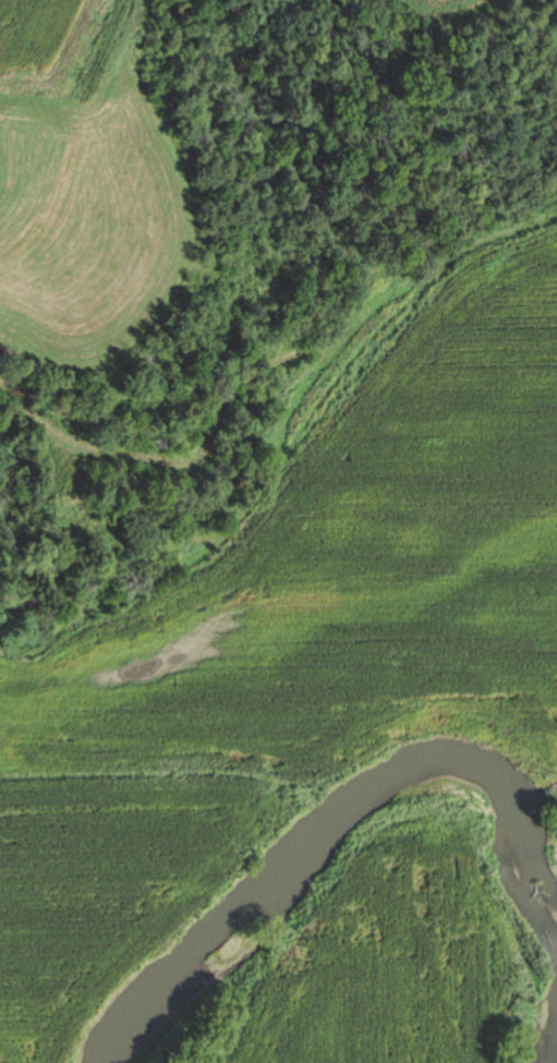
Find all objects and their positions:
river: (303, 833)
river: (536, 1029)

